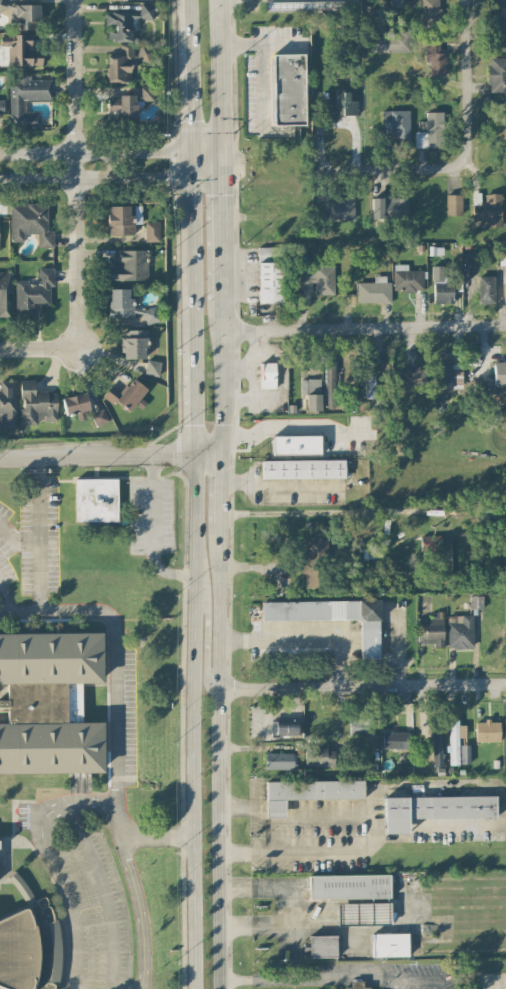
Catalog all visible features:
building: (495, 0)
building: (395, 3)
road: (252, 5)
building: (284, 5)
road: (364, 9)
building: (146, 10)
building: (430, 12)
building: (24, 14)
building: (120, 22)
building: (499, 34)
building: (390, 41)
road: (283, 42)
building: (20, 50)
building: (435, 57)
building: (126, 61)
road: (262, 61)
building: (497, 74)
road: (186, 76)
road: (217, 76)
building: (288, 88)
building: (146, 92)
building: (343, 102)
building: (1, 106)
building: (17, 106)
building: (121, 107)
building: (395, 123)
building: (430, 130)
road: (465, 133)
road: (101, 150)
traffic signals: (203, 150)
road: (202, 164)
road: (73, 175)
road: (100, 178)
traffic signals: (202, 178)
road: (202, 183)
building: (453, 204)
building: (389, 207)
building: (338, 208)
building: (489, 209)
building: (123, 218)
building: (30, 222)
building: (152, 230)
road: (217, 245)
building: (502, 256)
road: (190, 257)
building: (469, 259)
building: (130, 265)
building: (270, 274)
building: (406, 278)
building: (319, 280)
building: (444, 285)
building: (486, 289)
building: (34, 290)
building: (373, 290)
building: (504, 291)
building: (5, 293)
building: (120, 303)
building: (151, 314)
road: (362, 328)
road: (219, 340)
building: (133, 343)
road: (38, 351)
building: (152, 367)
building: (499, 373)
building: (267, 374)
building: (412, 375)
building: (447, 375)
building: (329, 383)
building: (370, 383)
road: (192, 392)
building: (311, 392)
building: (127, 394)
building: (75, 402)
building: (37, 403)
building: (7, 404)
road: (220, 416)
building: (99, 417)
road: (289, 425)
building: (296, 444)
road: (107, 458)
building: (302, 468)
building: (96, 499)
road: (333, 512)
road: (151, 531)
road: (40, 534)
road: (15, 540)
building: (434, 551)
building: (314, 561)
road: (4, 596)
building: (475, 601)
road: (19, 609)
building: (332, 616)
building: (431, 629)
building: (460, 631)
road: (205, 633)
road: (301, 638)
road: (114, 672)
road: (361, 687)
building: (49, 704)
road: (192, 722)
road: (216, 722)
building: (360, 726)
building: (487, 730)
building: (505, 731)
building: (396, 739)
building: (455, 740)
building: (435, 749)
building: (464, 753)
building: (318, 756)
building: (280, 760)
road: (479, 786)
building: (308, 792)
building: (434, 809)
road: (117, 817)
road: (299, 817)
road: (157, 835)
building: (0, 846)
road: (323, 851)
road: (55, 867)
building: (18, 883)
building: (349, 885)
road: (140, 912)
building: (365, 912)
road: (266, 920)
building: (390, 944)
building: (322, 945)
building: (26, 961)
road: (414, 976)
road: (303, 977)
building: (357, 984)

